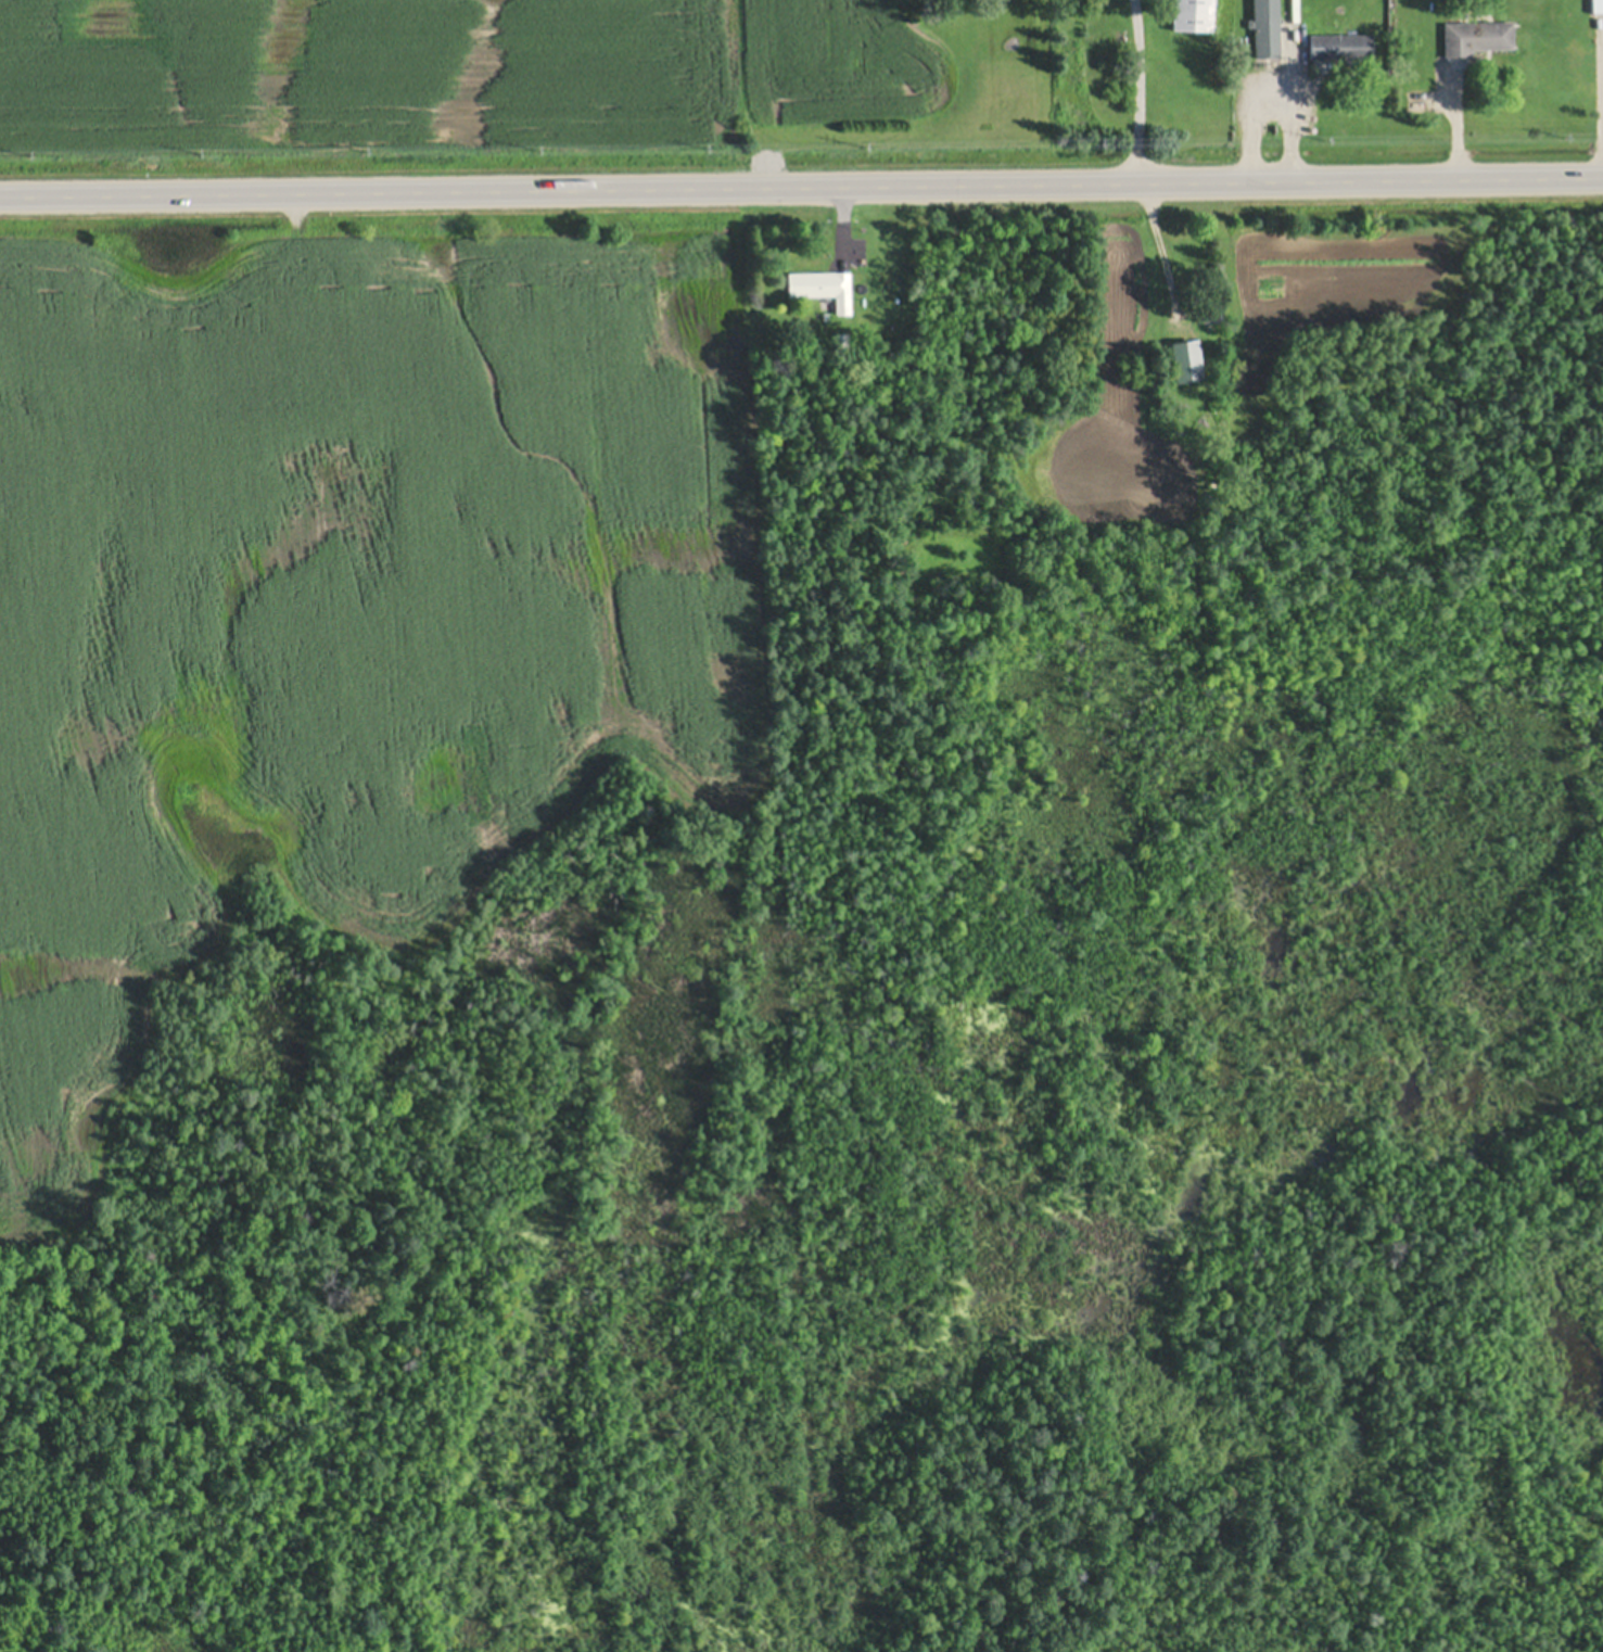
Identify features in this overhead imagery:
building: (1596, 4)
building: (1193, 14)
building: (1265, 27)
building: (1476, 34)
building: (1340, 43)
power tower: (1319, 135)
power tower: (1559, 135)
power tower: (1092, 138)
power tower: (856, 141)
power tower: (699, 144)
power tower: (529, 145)
power tower: (356, 147)
power tower: (188, 149)
power tower: (16, 150)
road: (801, 190)
building: (823, 283)
building: (1005, 303)
building: (1210, 309)
building: (841, 336)
building: (989, 351)
building: (1186, 358)
building: (41, 1269)

